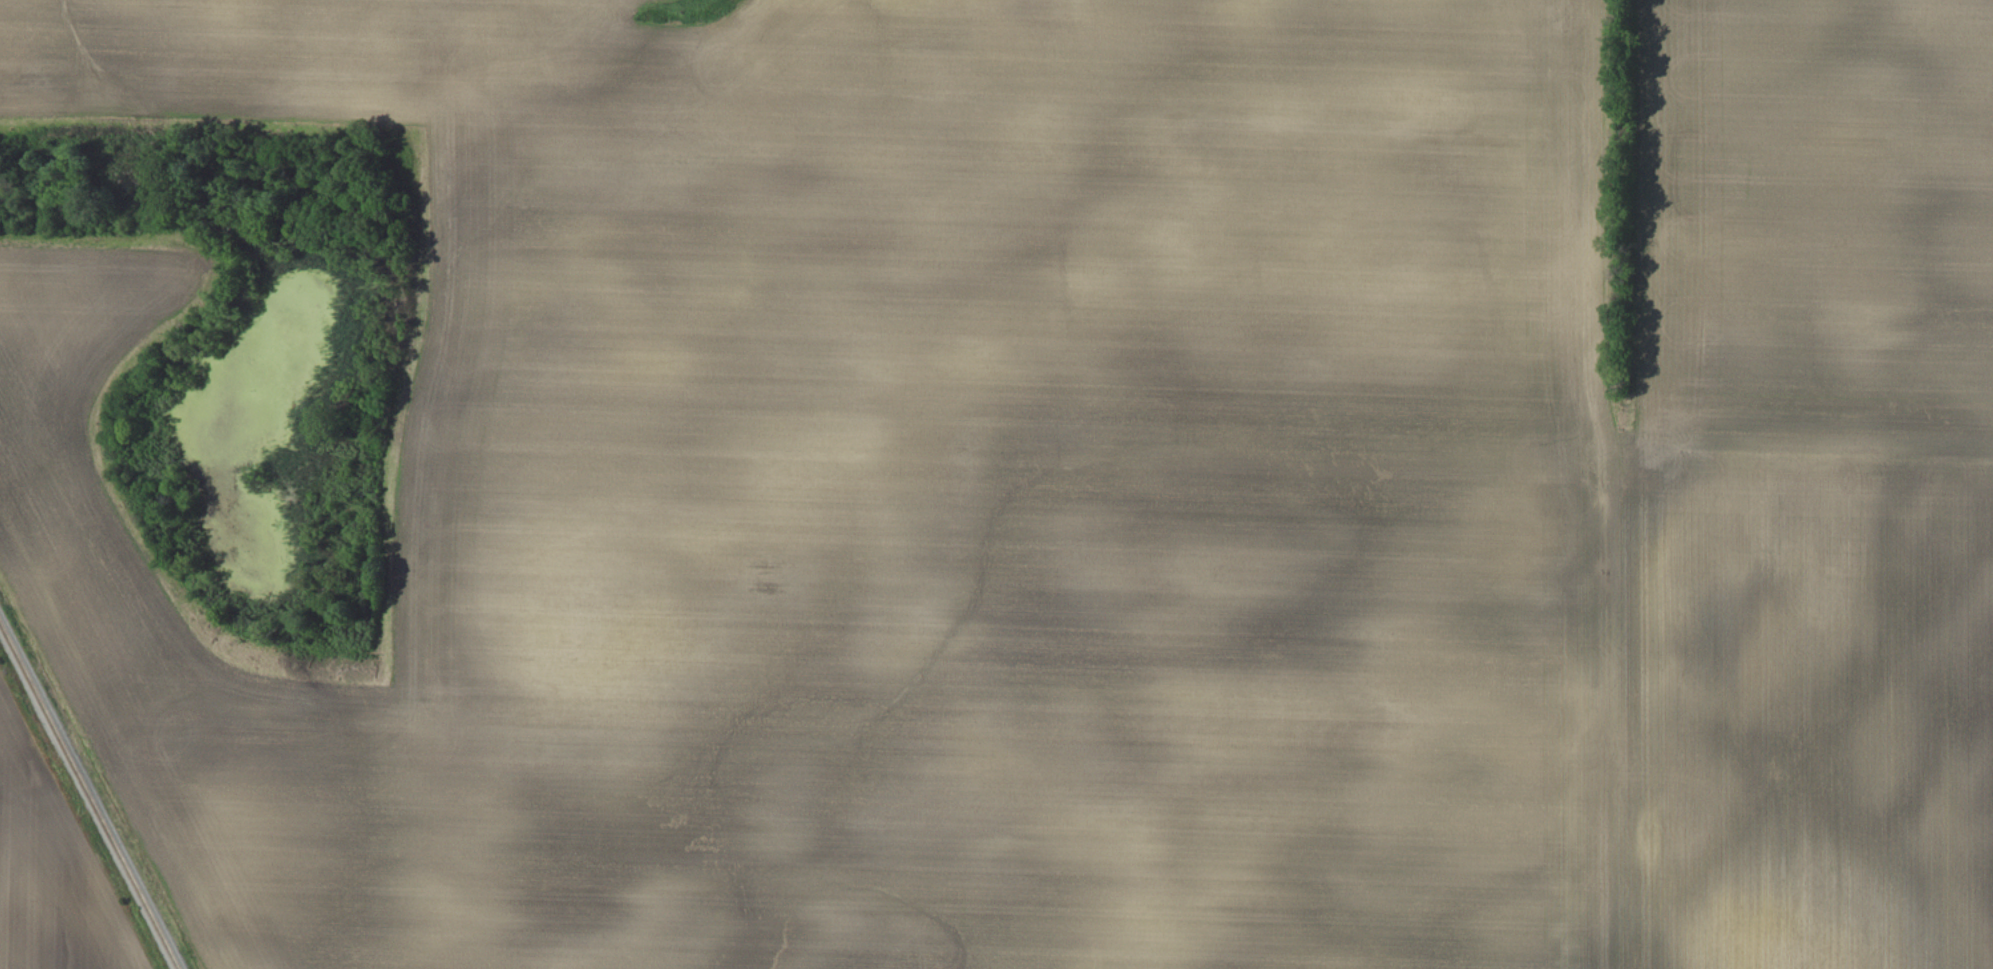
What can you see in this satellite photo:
railway: (89, 794)

